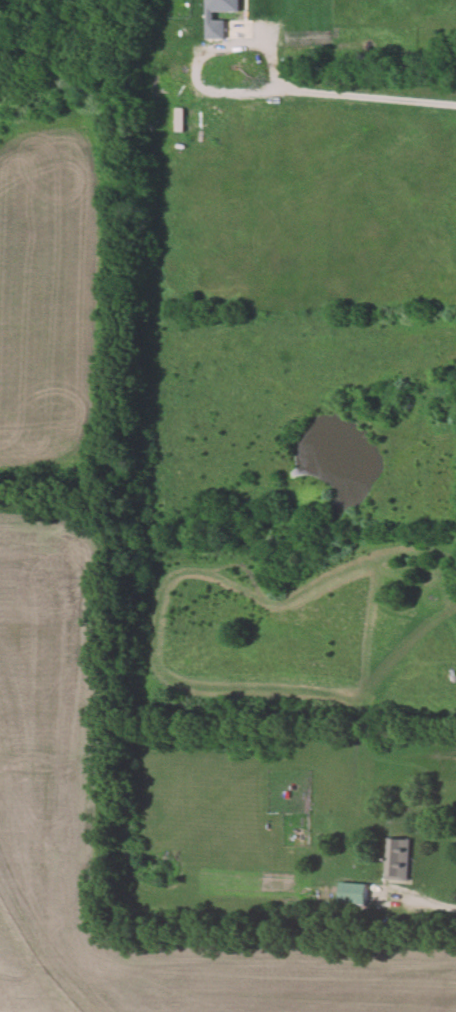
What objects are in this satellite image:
building: (211, 15)
road: (332, 94)
crop: (48, 275)
crop: (304, 385)
crop: (44, 736)
building: (396, 859)
building: (352, 893)
road: (428, 904)

